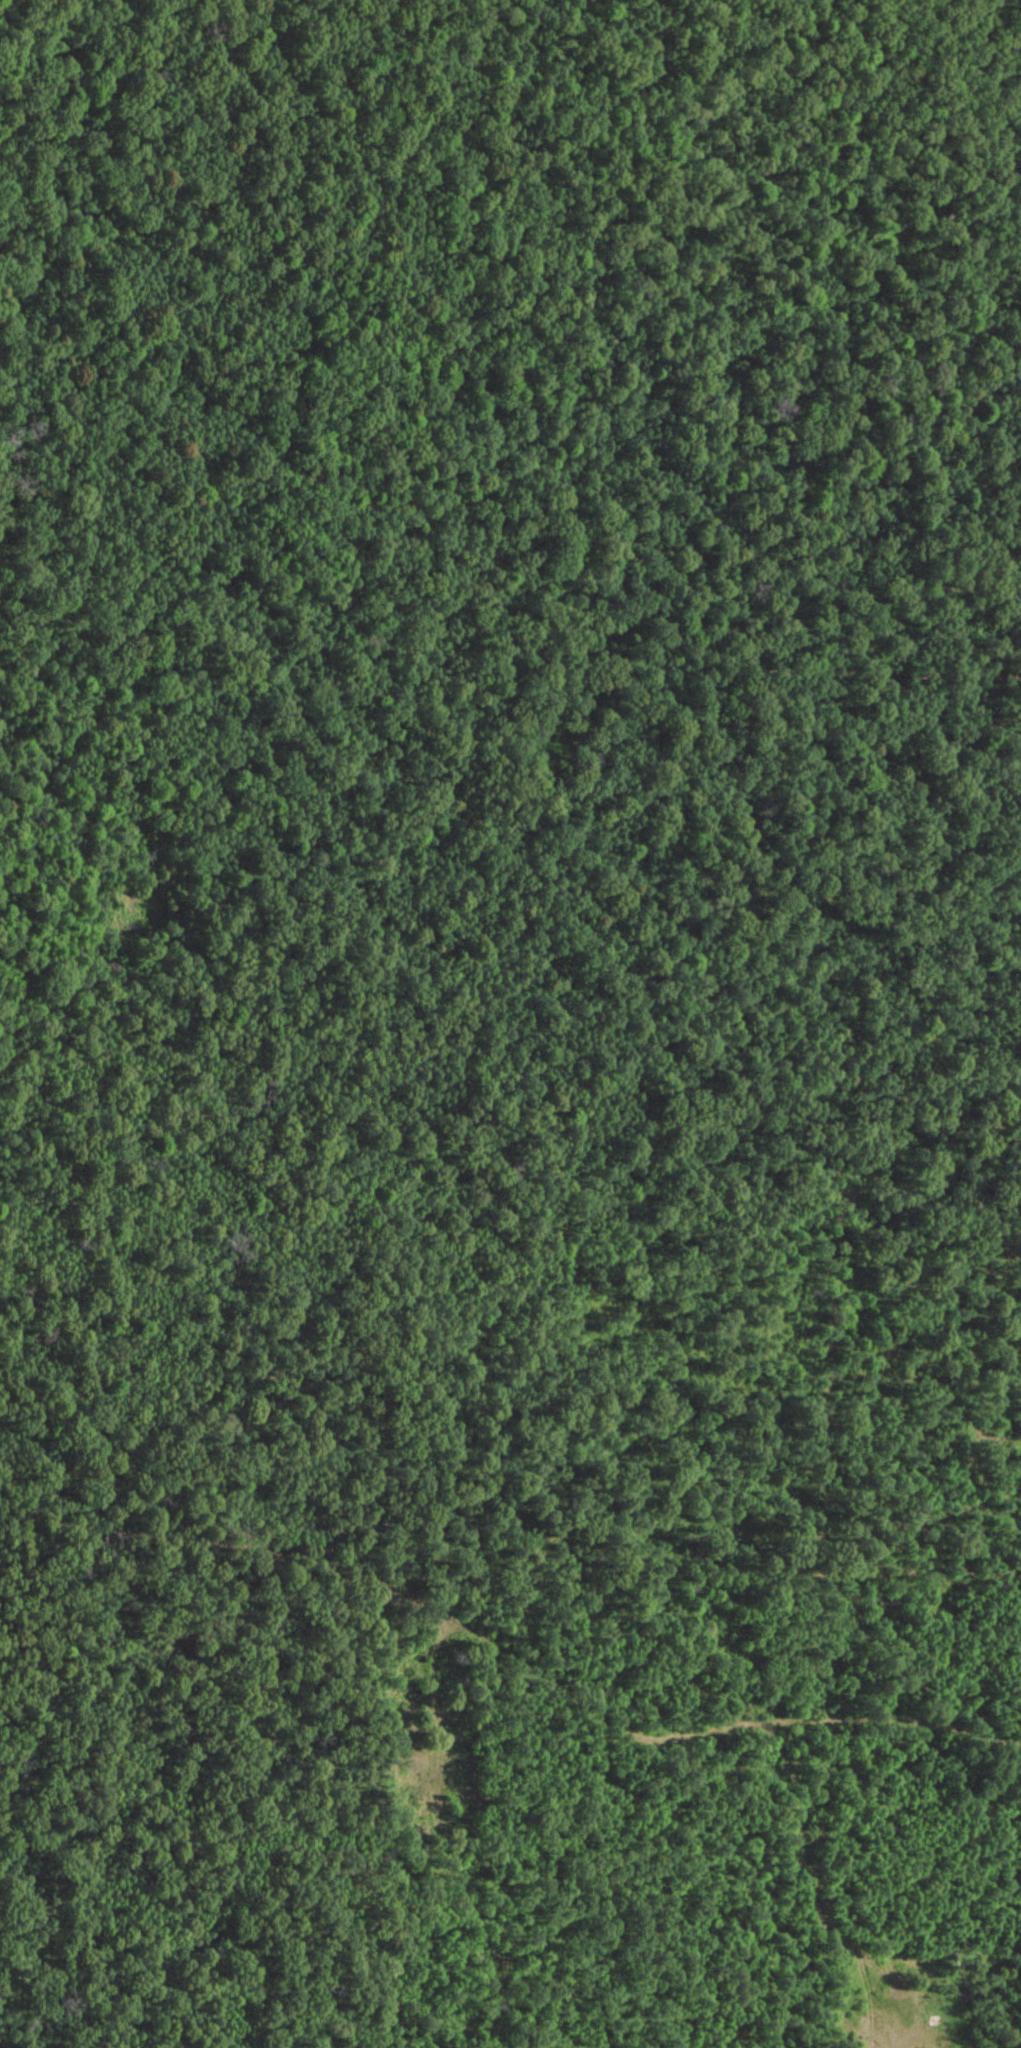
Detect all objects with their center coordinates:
road: (513, 214)
building: (5, 221)
building: (8, 257)
road: (509, 1660)

